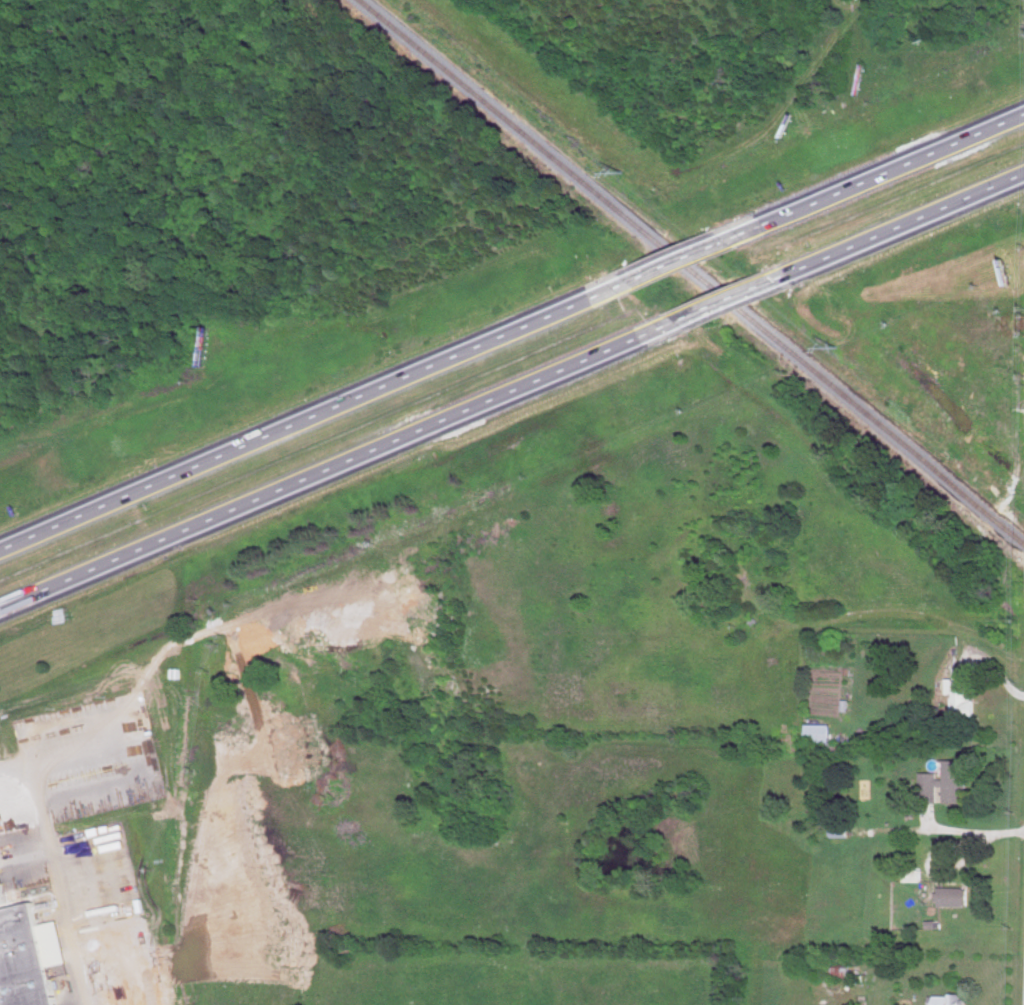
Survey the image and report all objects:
road: (880, 172)
road: (910, 223)
road: (681, 258)
railway: (688, 275)
road: (736, 298)
road: (312, 414)
road: (337, 467)
building: (962, 692)
building: (818, 731)
building: (956, 780)
building: (930, 786)
road: (970, 831)
road: (60, 874)
building: (3, 883)
building: (955, 895)
building: (25, 956)
building: (948, 998)

